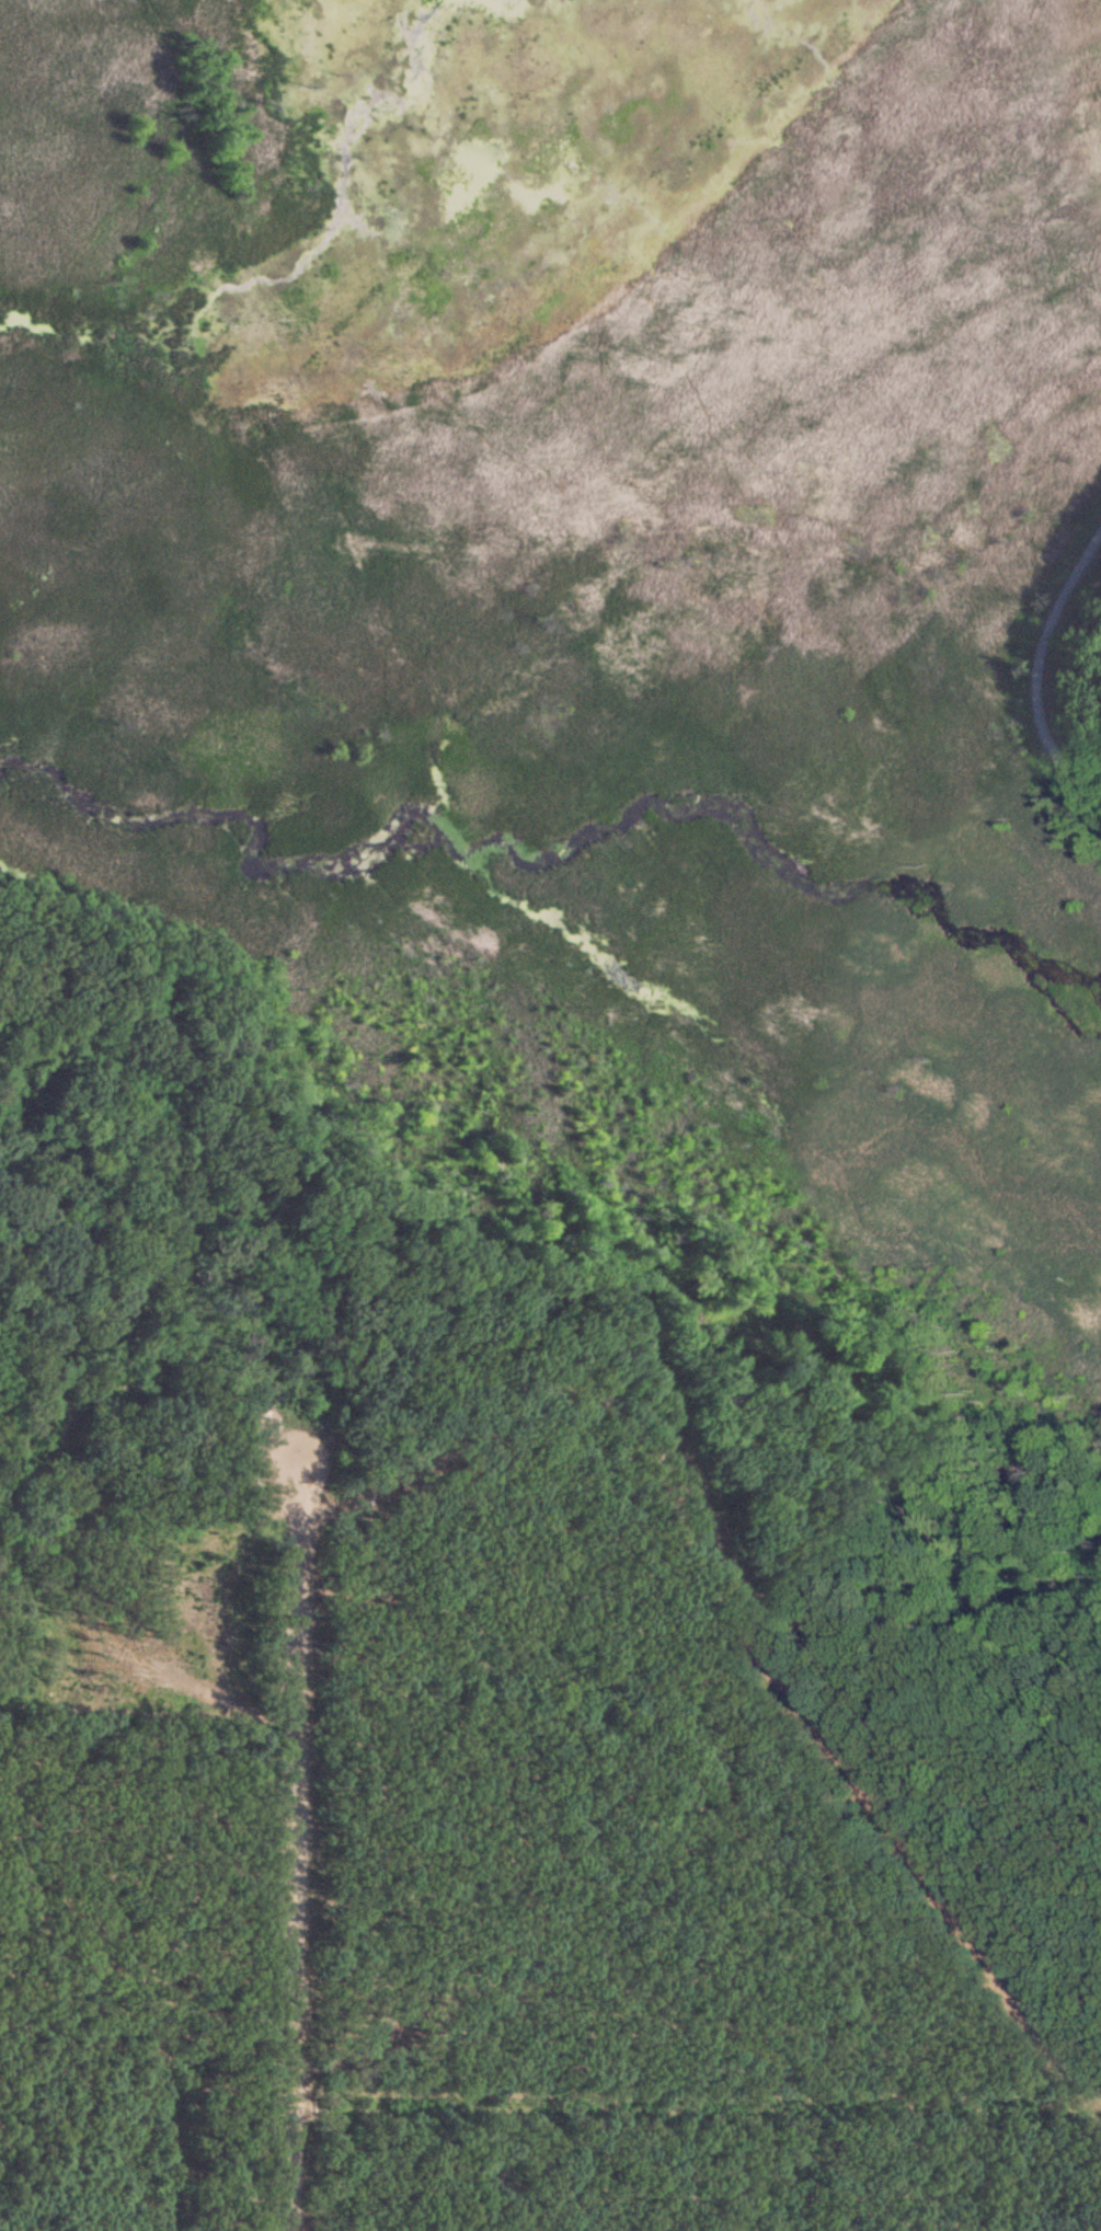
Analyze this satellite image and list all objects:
road: (1054, 654)
road: (289, 1734)
road: (693, 2082)
road: (286, 2152)

